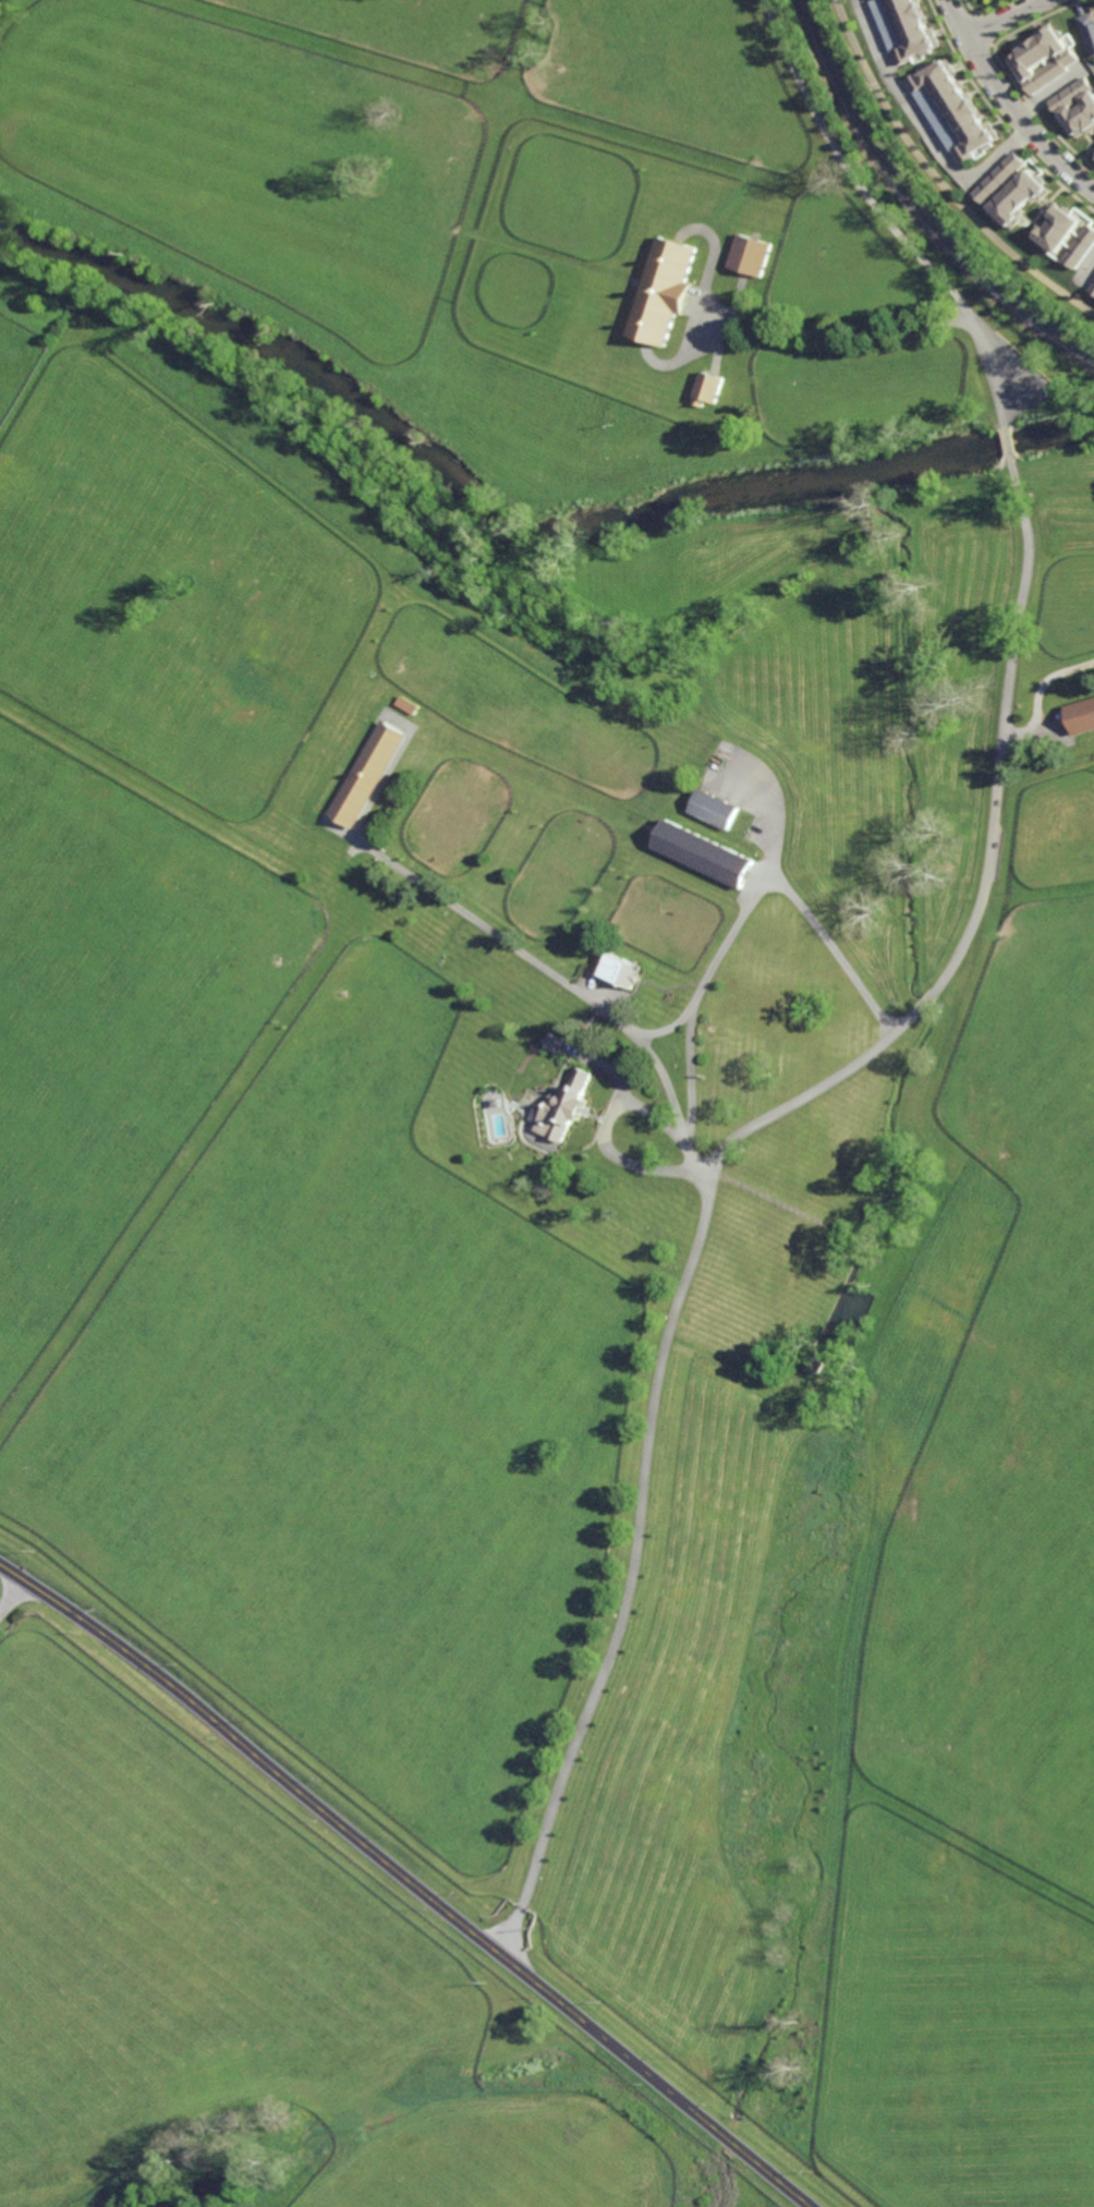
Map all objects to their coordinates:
road: (999, 16)
building: (907, 28)
building: (1087, 32)
building: (1042, 59)
road: (1008, 105)
building: (958, 107)
building: (940, 118)
road: (925, 126)
building: (1093, 156)
building: (1000, 178)
road: (937, 180)
building: (1020, 197)
railway: (915, 206)
building: (1059, 228)
building: (1081, 247)
building: (747, 254)
building: (661, 290)
building: (1093, 291)
road: (891, 329)
building: (706, 388)
road: (1009, 444)
building: (410, 703)
building: (1082, 714)
building: (369, 772)
building: (717, 807)
building: (706, 852)
road: (514, 945)
road: (722, 951)
building: (622, 970)
building: (713, 1027)
building: (556, 1042)
road: (691, 1079)
building: (497, 1103)
building: (564, 1108)
road: (606, 1133)
road: (718, 1161)
building: (815, 1360)
road: (10, 1598)
road: (408, 1880)
building: (233, 2170)

